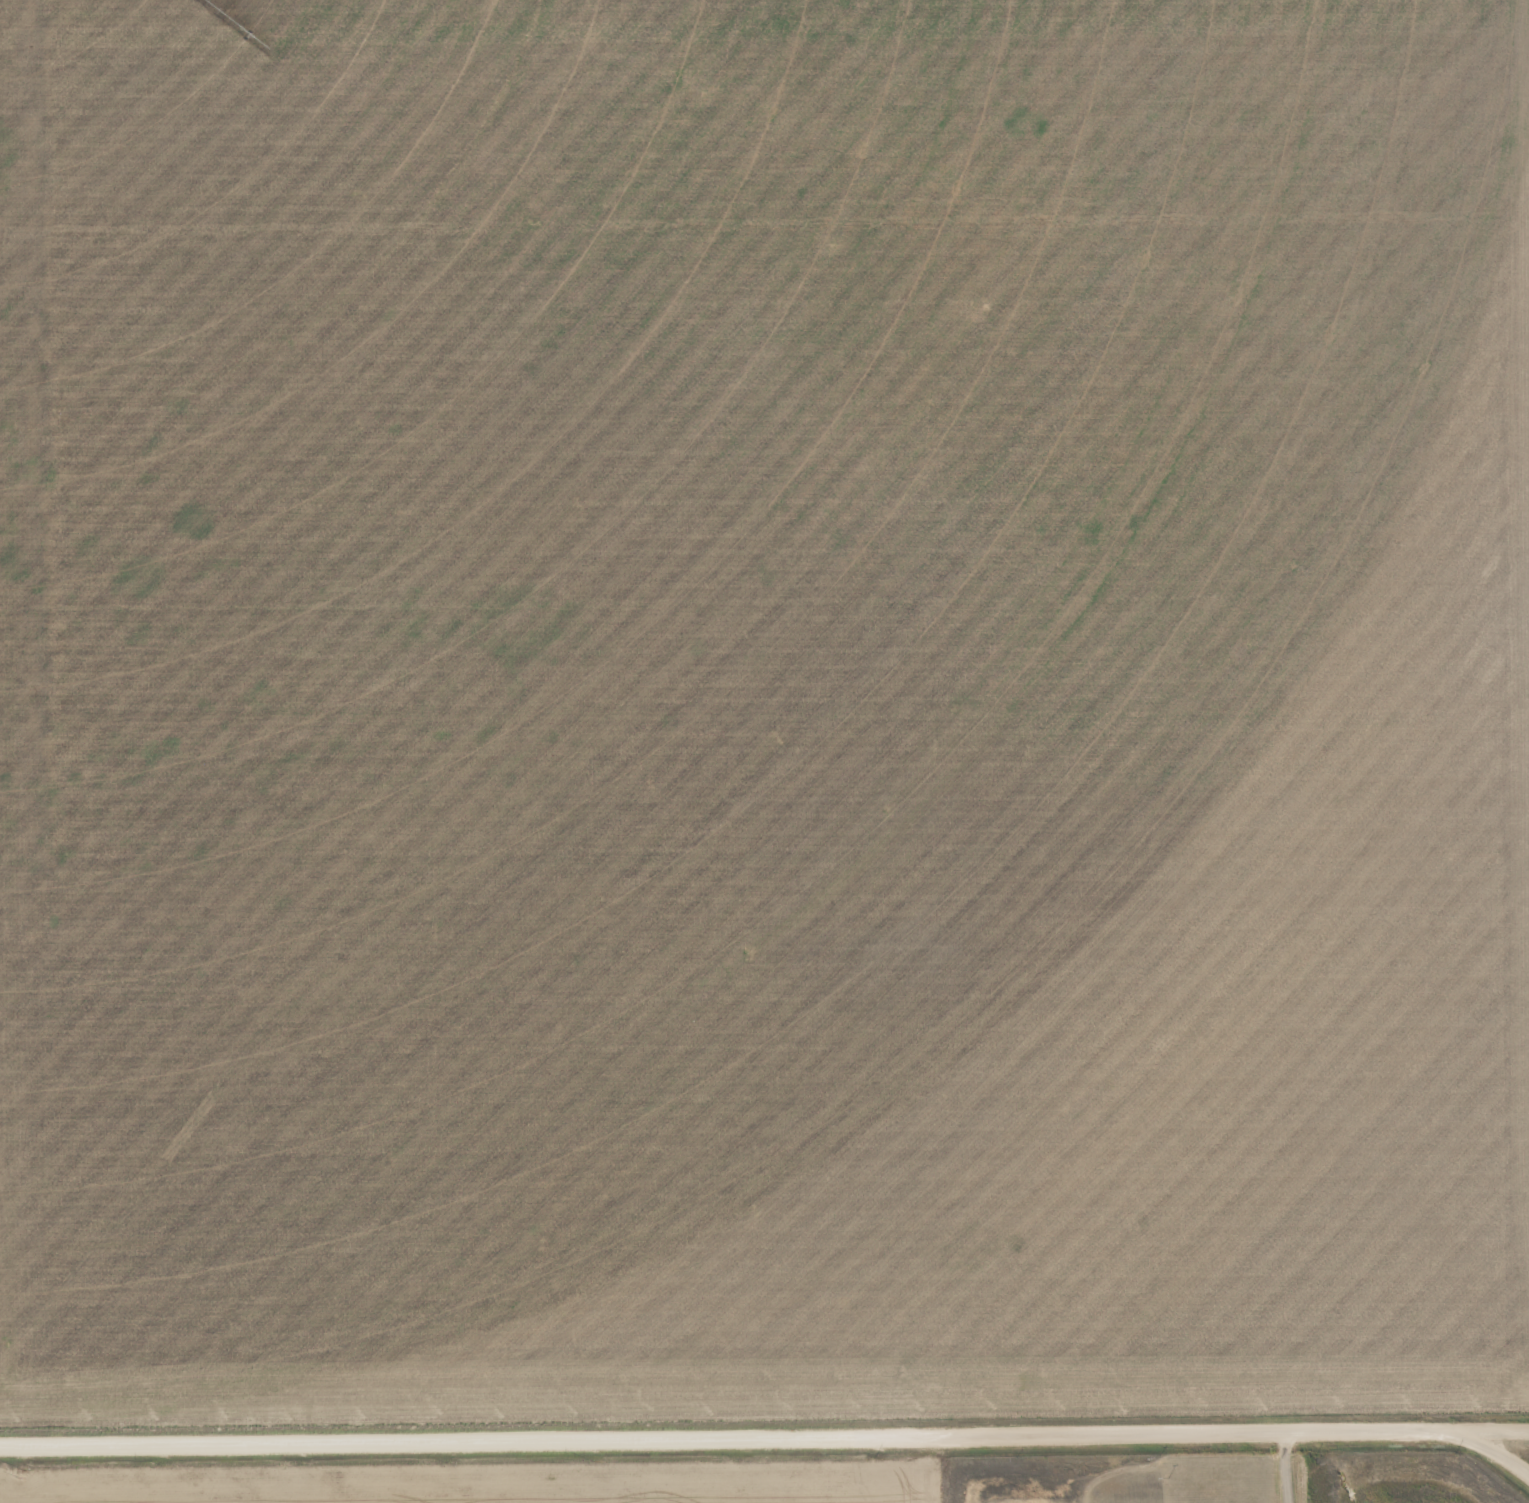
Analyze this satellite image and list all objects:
road: (1497, 1432)
road: (771, 1438)

